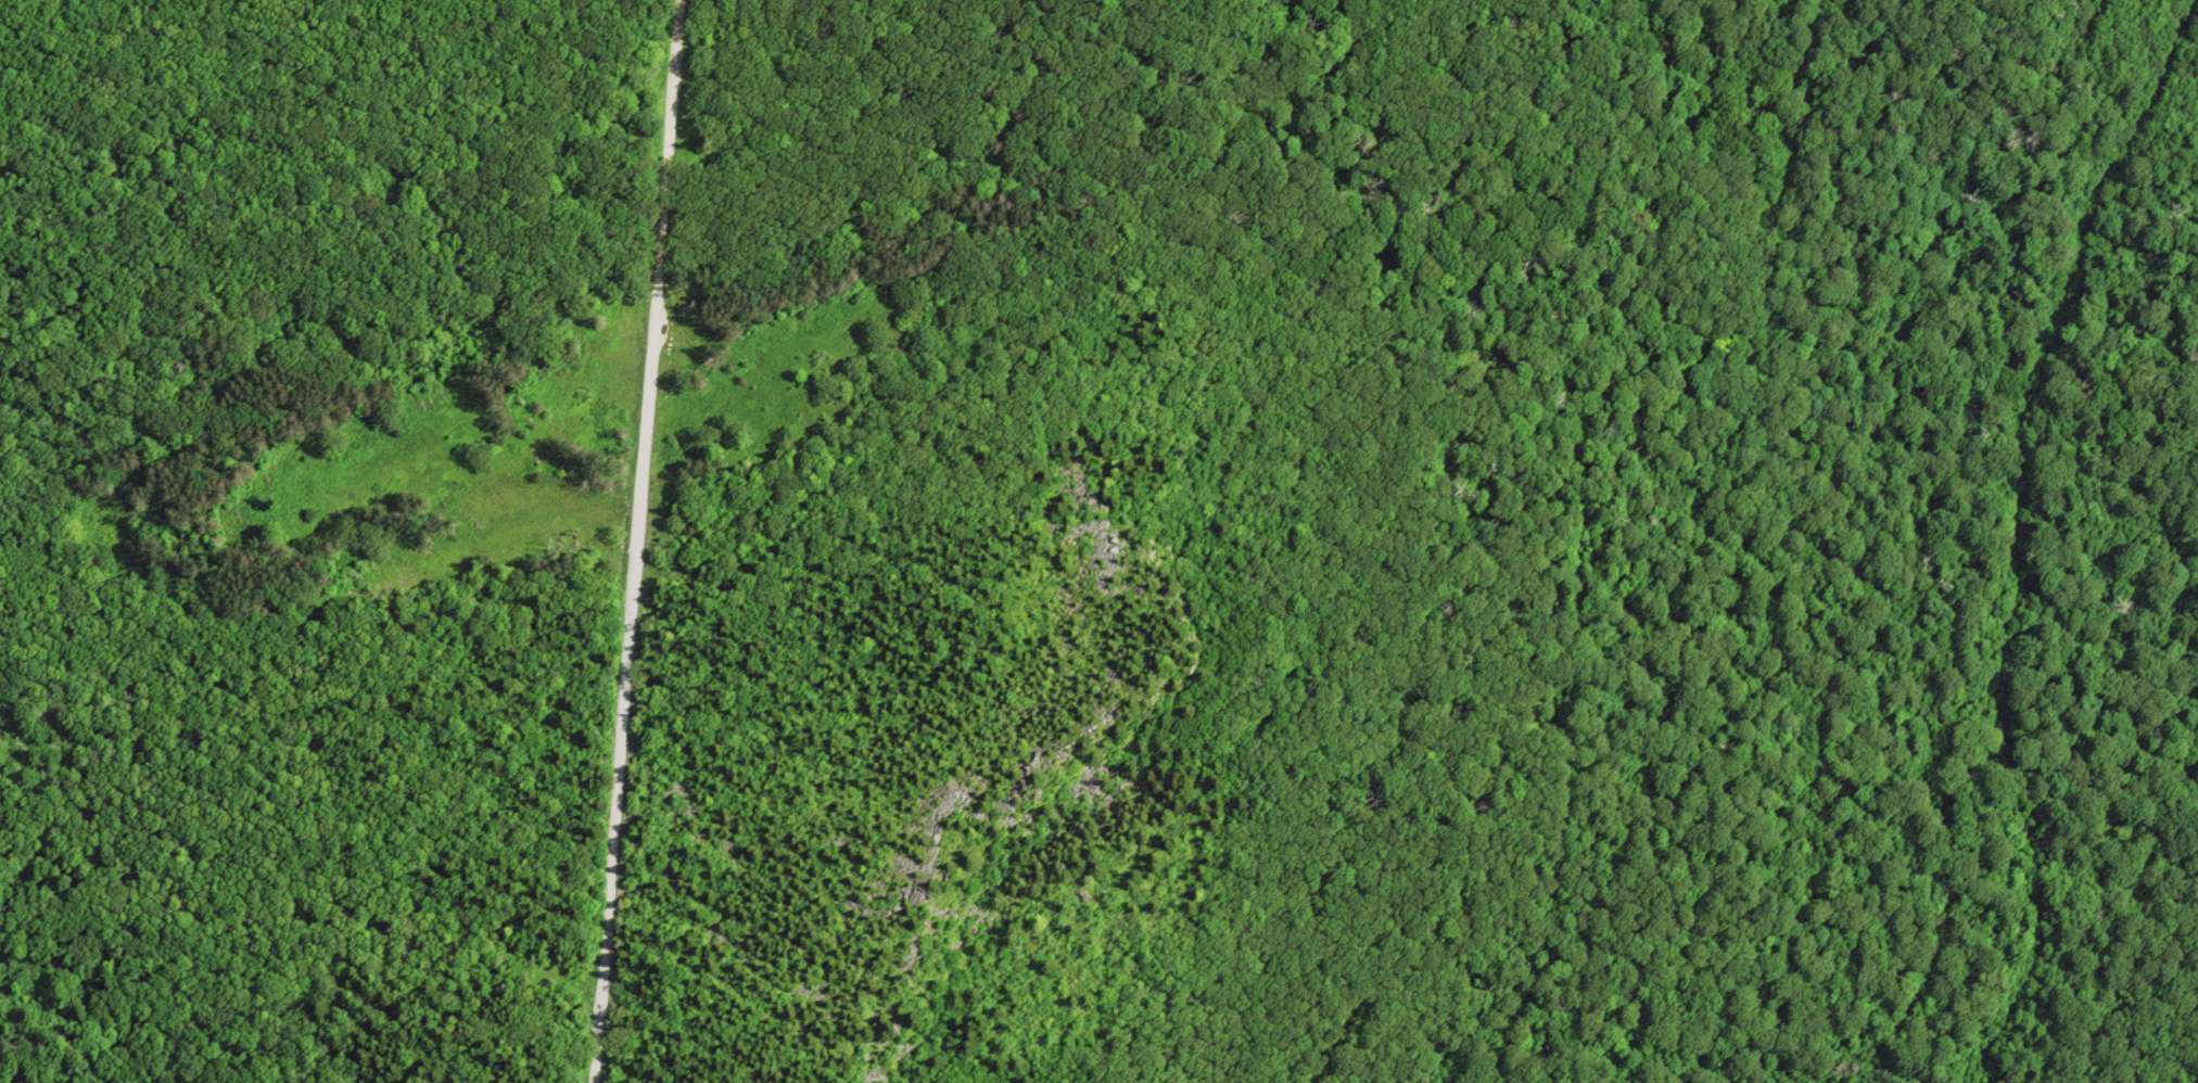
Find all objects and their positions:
road: (638, 541)
road: (3, 1080)

